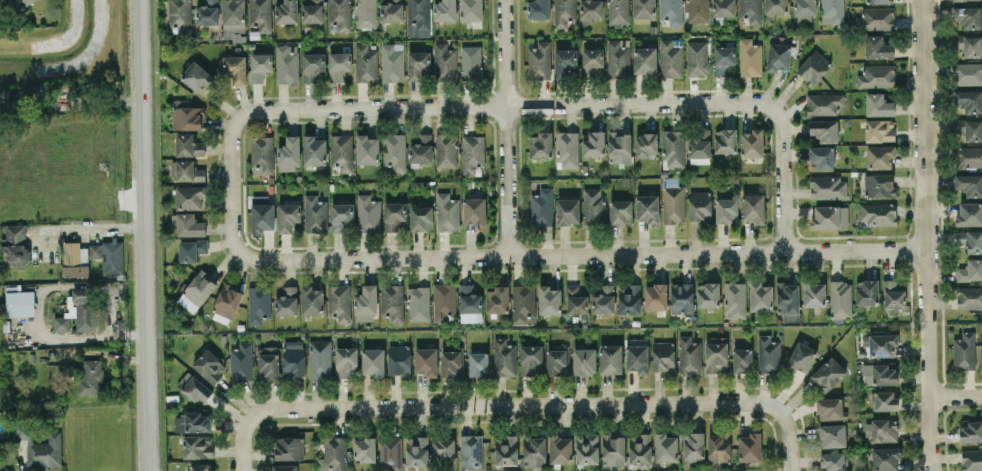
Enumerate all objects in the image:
building: (2, 1)
building: (879, 1)
building: (21, 2)
building: (775, 7)
building: (643, 8)
building: (723, 8)
building: (538, 9)
building: (392, 10)
building: (444, 10)
building: (471, 10)
building: (590, 10)
building: (697, 10)
building: (750, 10)
building: (804, 10)
building: (286, 11)
building: (312, 11)
building: (671, 11)
building: (833, 11)
building: (208, 12)
building: (564, 12)
building: (618, 12)
building: (365, 13)
building: (180, 14)
building: (260, 14)
building: (339, 15)
building: (968, 16)
building: (233, 17)
building: (418, 18)
building: (876, 18)
building: (969, 45)
building: (878, 47)
building: (778, 56)
building: (750, 57)
building: (670, 58)
building: (697, 58)
building: (723, 58)
building: (617, 59)
building: (539, 61)
building: (592, 61)
building: (645, 61)
building: (392, 62)
building: (444, 62)
building: (471, 62)
building: (565, 62)
building: (287, 63)
building: (365, 63)
building: (418, 64)
building: (312, 65)
building: (338, 65)
building: (260, 66)
building: (813, 67)
building: (235, 68)
building: (968, 73)
building: (877, 76)
building: (197, 77)
building: (968, 100)
building: (824, 103)
road: (505, 104)
building: (878, 105)
building: (187, 115)
road: (505, 128)
building: (969, 129)
building: (824, 130)
building: (879, 130)
building: (725, 140)
building: (594, 143)
building: (752, 143)
building: (646, 144)
building: (189, 145)
building: (540, 145)
building: (619, 146)
building: (673, 147)
building: (700, 147)
building: (367, 149)
building: (420, 149)
building: (567, 149)
building: (314, 150)
building: (446, 150)
building: (341, 152)
building: (395, 152)
building: (472, 153)
building: (262, 154)
building: (289, 154)
building: (880, 156)
building: (968, 157)
building: (821, 158)
building: (187, 171)
road: (780, 181)
building: (969, 184)
building: (879, 185)
building: (828, 187)
road: (232, 194)
building: (190, 197)
building: (673, 201)
building: (593, 205)
building: (700, 206)
building: (754, 207)
building: (541, 208)
building: (647, 208)
building: (726, 210)
building: (474, 211)
building: (568, 211)
building: (447, 212)
building: (620, 212)
building: (262, 213)
building: (368, 213)
building: (878, 213)
building: (315, 214)
building: (969, 214)
building: (394, 215)
building: (288, 216)
building: (342, 217)
building: (826, 217)
building: (421, 218)
building: (188, 224)
road: (103, 227)
road: (51, 230)
road: (146, 235)
road: (924, 235)
building: (970, 240)
building: (15, 244)
building: (191, 249)
road: (591, 254)
building: (108, 255)
building: (74, 259)
building: (970, 270)
building: (197, 291)
building: (867, 291)
building: (708, 294)
building: (814, 294)
building: (893, 295)
building: (655, 296)
building: (760, 296)
building: (682, 297)
building: (969, 297)
building: (629, 298)
building: (497, 299)
building: (549, 299)
building: (604, 299)
building: (735, 299)
building: (840, 299)
building: (228, 300)
building: (312, 300)
building: (444, 300)
building: (576, 300)
building: (788, 300)
building: (287, 301)
building: (392, 301)
building: (339, 302)
building: (20, 303)
building: (259, 303)
building: (366, 303)
building: (419, 303)
building: (523, 303)
building: (470, 304)
building: (77, 311)
building: (880, 344)
building: (964, 351)
building: (768, 354)
building: (689, 355)
building: (716, 355)
building: (980, 355)
building: (663, 356)
building: (504, 357)
building: (801, 357)
building: (293, 358)
building: (611, 358)
building: (638, 358)
building: (320, 359)
building: (531, 359)
building: (399, 360)
building: (426, 360)
building: (556, 360)
building: (742, 360)
building: (241, 361)
building: (346, 361)
building: (373, 361)
building: (584, 361)
building: (268, 362)
building: (478, 363)
building: (451, 364)
building: (210, 366)
building: (828, 374)
building: (91, 376)
building: (194, 387)
road: (956, 396)
building: (885, 400)
road: (517, 406)
building: (830, 408)
building: (192, 422)
building: (881, 429)
building: (970, 431)
building: (832, 435)
road: (242, 443)
road: (789, 443)
building: (40, 446)
building: (198, 446)
building: (750, 446)
building: (665, 447)
building: (693, 447)
building: (719, 447)
building: (289, 448)
building: (443, 448)
building: (587, 448)
building: (640, 448)
building: (365, 449)
building: (506, 449)
building: (560, 449)
building: (613, 449)
building: (534, 450)
building: (417, 451)
building: (471, 452)
building: (391, 453)
building: (333, 454)
building: (885, 458)
building: (972, 460)
building: (833, 461)
building: (201, 467)
building: (284, 467)
building: (8, 469)

